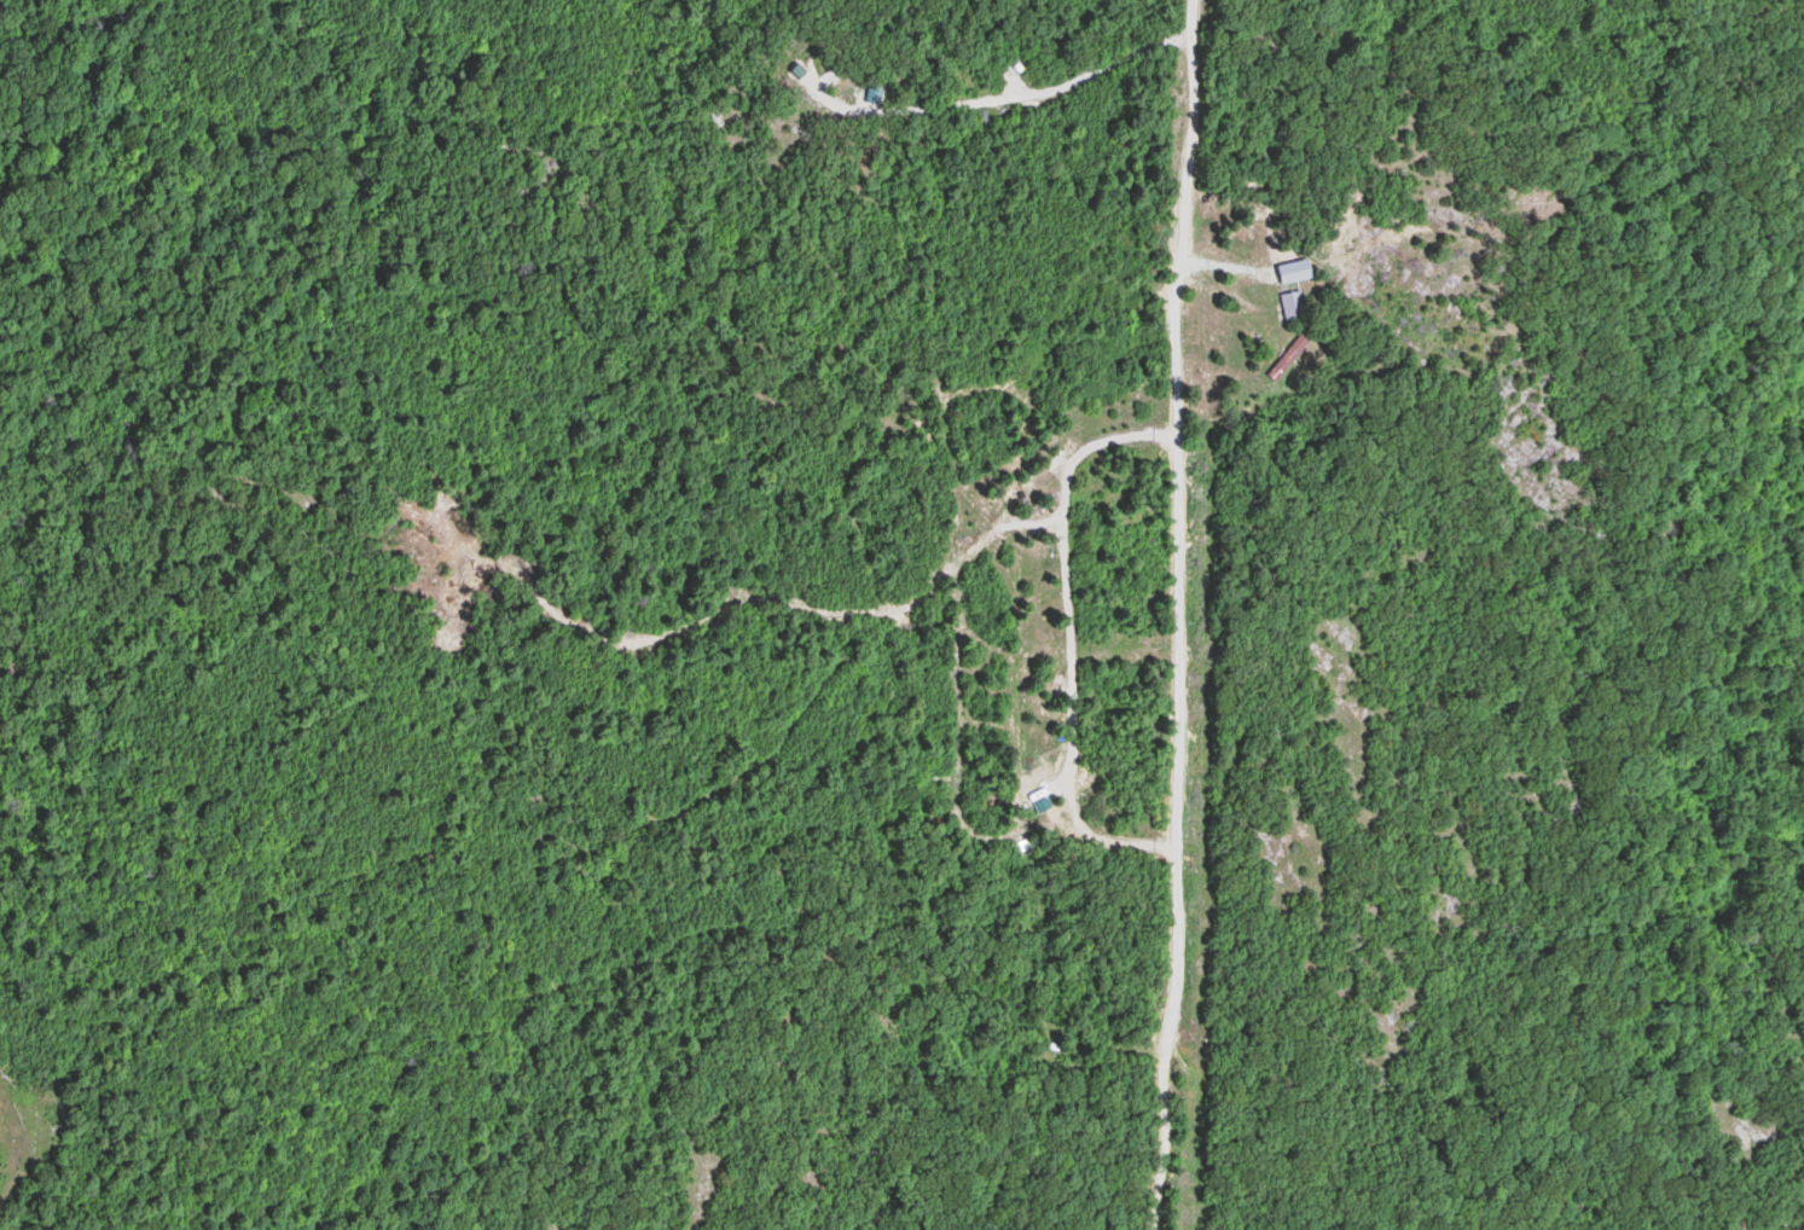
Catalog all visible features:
road: (1501, 236)
building: (1292, 304)
building: (1288, 356)

